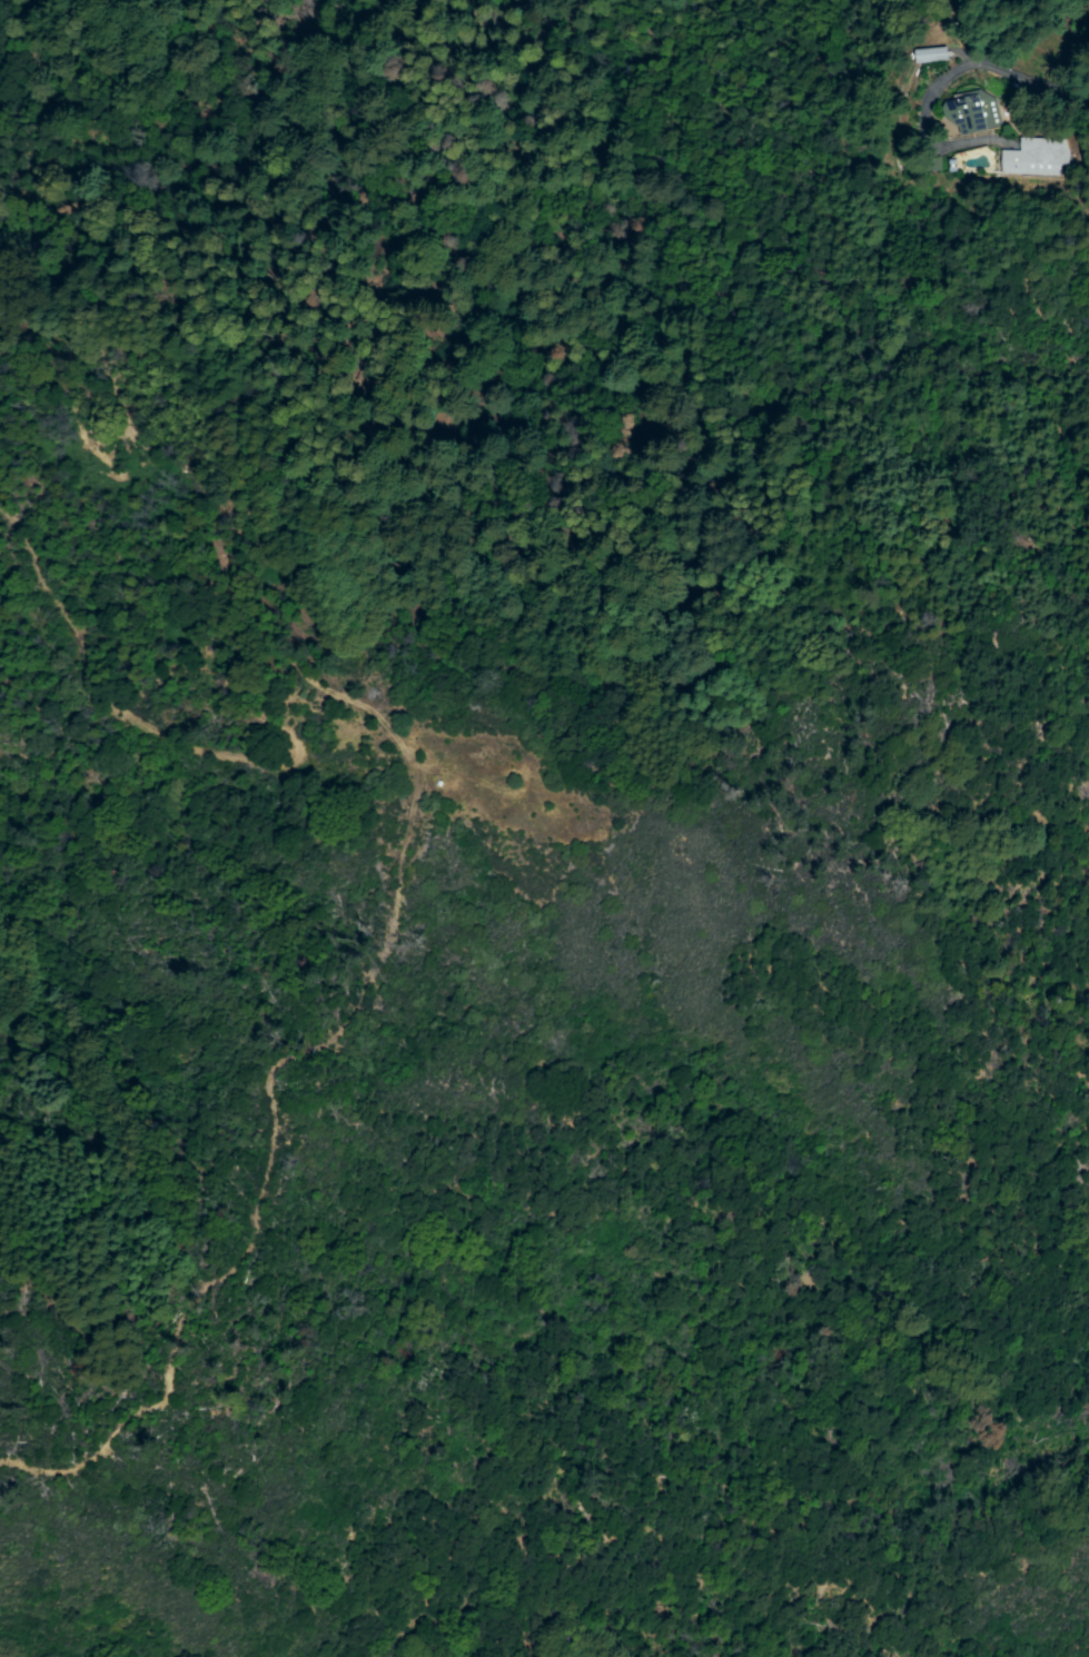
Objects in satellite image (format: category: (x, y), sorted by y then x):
building: (929, 53)
building: (932, 65)
building: (974, 118)
building: (1039, 165)
building: (367, 694)
building: (438, 782)
road: (397, 886)

